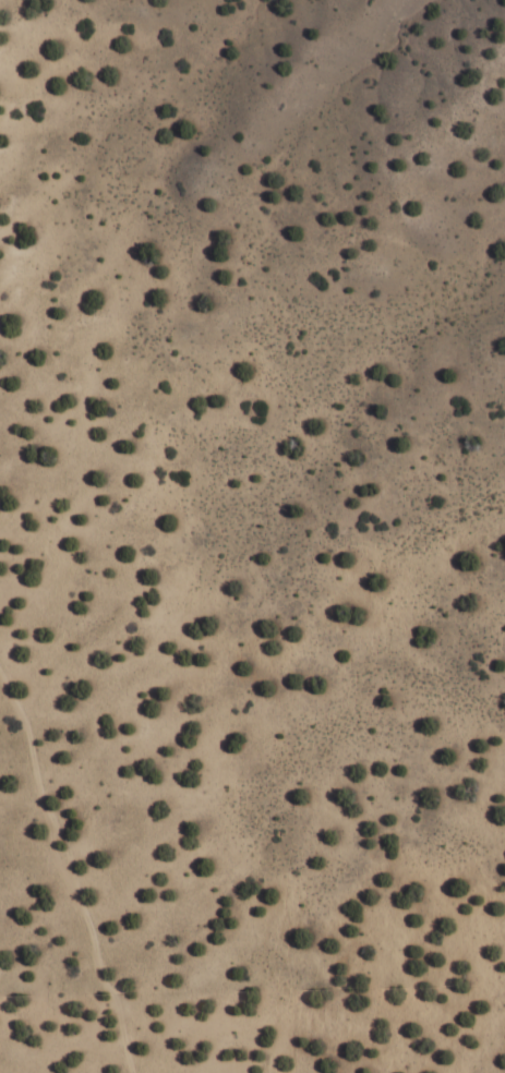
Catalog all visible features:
road: (64, 904)

